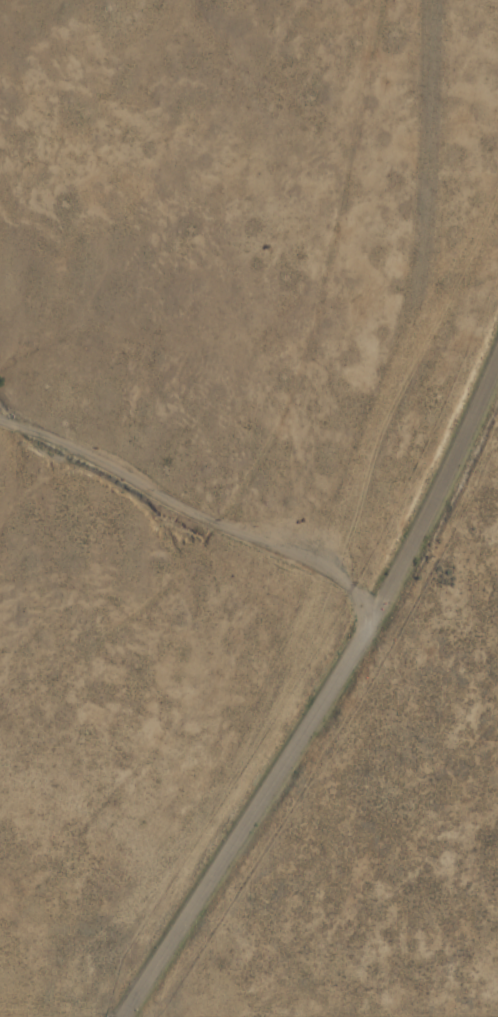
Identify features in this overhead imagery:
road: (326, 700)

